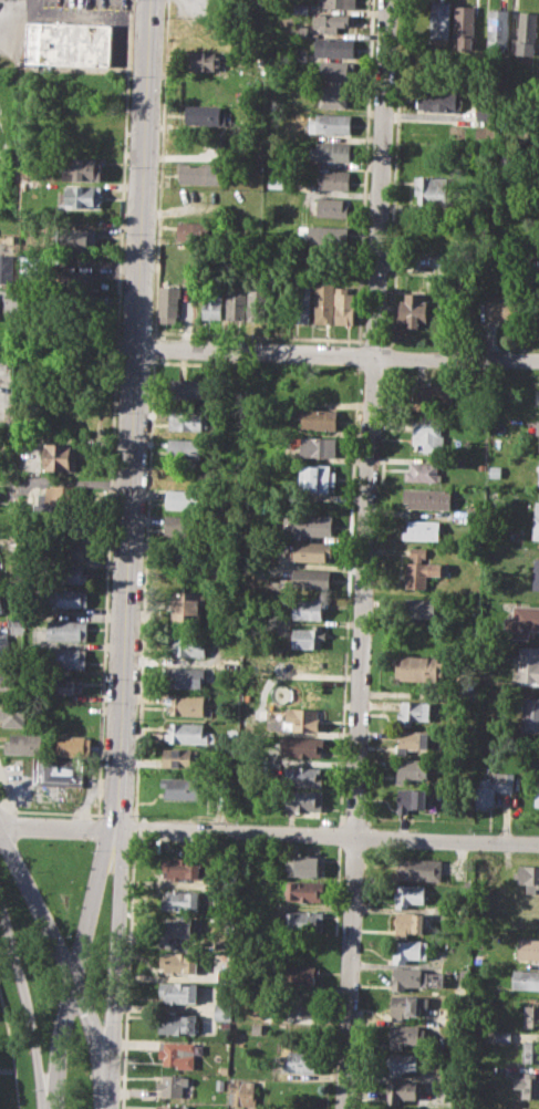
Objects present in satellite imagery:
building: (338, 2)
building: (300, 8)
building: (440, 19)
parking lot: (60, 22)
building: (333, 22)
building: (464, 25)
building: (497, 29)
building: (299, 31)
building: (526, 34)
building: (70, 43)
building: (334, 46)
building: (299, 55)
building: (205, 60)
building: (336, 70)
street lamp: (129, 75)
building: (334, 96)
building: (437, 101)
building: (486, 112)
building: (206, 114)
building: (333, 123)
building: (331, 151)
street lamp: (126, 167)
road: (160, 167)
building: (81, 168)
building: (201, 173)
building: (334, 179)
building: (276, 182)
building: (433, 189)
building: (82, 196)
building: (332, 206)
building: (196, 230)
street lamp: (123, 234)
building: (323, 234)
building: (76, 238)
building: (6, 269)
road: (360, 271)
building: (74, 280)
building: (299, 300)
building: (211, 302)
building: (323, 302)
building: (235, 303)
building: (169, 304)
building: (257, 304)
building: (344, 305)
building: (415, 310)
building: (501, 310)
street lamp: (120, 322)
road: (153, 345)
road: (336, 351)
building: (188, 387)
building: (435, 392)
road: (113, 406)
street lamp: (116, 413)
road: (133, 413)
building: (318, 418)
building: (188, 421)
building: (537, 427)
building: (427, 435)
building: (318, 446)
building: (187, 447)
building: (56, 456)
building: (458, 462)
building: (495, 470)
building: (424, 471)
building: (318, 477)
building: (538, 481)
building: (427, 497)
building: (50, 498)
building: (184, 499)
street lamp: (113, 506)
building: (536, 522)
building: (308, 524)
building: (184, 525)
building: (422, 530)
building: (69, 549)
building: (310, 549)
building: (185, 551)
road: (365, 553)
building: (423, 569)
building: (68, 573)
building: (536, 574)
building: (311, 578)
road: (143, 585)
street lamp: (110, 592)
building: (68, 598)
building: (1, 604)
building: (186, 605)
building: (309, 608)
building: (417, 608)
building: (524, 621)
building: (15, 625)
building: (69, 630)
building: (309, 636)
building: (3, 645)
building: (186, 645)
building: (65, 657)
building: (305, 662)
building: (529, 663)
building: (418, 667)
building: (185, 677)
building: (9, 680)
street lamp: (106, 680)
building: (61, 686)
building: (187, 704)
building: (13, 712)
building: (274, 712)
building: (415, 712)
building: (530, 715)
building: (301, 719)
building: (189, 734)
building: (414, 740)
building: (24, 743)
building: (73, 746)
building: (302, 746)
building: (183, 758)
street lamp: (102, 766)
building: (413, 769)
building: (55, 770)
building: (304, 776)
building: (185, 788)
building: (493, 789)
building: (537, 791)
building: (303, 800)
building: (413, 800)
road: (7, 808)
road: (38, 810)
street lamp: (19, 813)
road: (115, 813)
road: (134, 815)
street lamp: (94, 817)
street lamp: (201, 820)
street lamp: (310, 825)
road: (133, 828)
road: (269, 831)
street lamp: (91, 849)
building: (304, 866)
street lamp: (128, 868)
building: (182, 868)
building: (418, 869)
street lamp: (30, 872)
park: (59, 874)
building: (530, 878)
building: (305, 891)
building: (410, 895)
building: (180, 900)
building: (302, 919)
building: (408, 923)
building: (177, 927)
street lamp: (68, 937)
park: (99, 949)
building: (528, 949)
building: (408, 950)
road: (60, 955)
street lamp: (125, 958)
park: (32, 961)
building: (179, 962)
road: (76, 965)
road: (111, 967)
road: (126, 973)
building: (300, 974)
building: (414, 977)
building: (526, 978)
building: (178, 992)
street lamp: (18, 1003)
road: (24, 1004)
street lamp: (54, 1005)
building: (407, 1005)
building: (297, 1008)
building: (221, 1012)
building: (531, 1016)
street lamp: (101, 1019)
building: (176, 1023)
building: (256, 1028)
building: (406, 1035)
building: (502, 1036)
building: (530, 1051)
road: (11, 1053)
building: (177, 1053)
building: (304, 1060)
building: (403, 1063)
park: (76, 1070)
building: (219, 1082)
building: (173, 1084)
building: (528, 1084)
building: (401, 1090)
street lamp: (32, 1091)
building: (242, 1092)
building: (172, 1107)
street lamp: (118, 1108)
building: (400, 1108)
building: (512, 1108)

